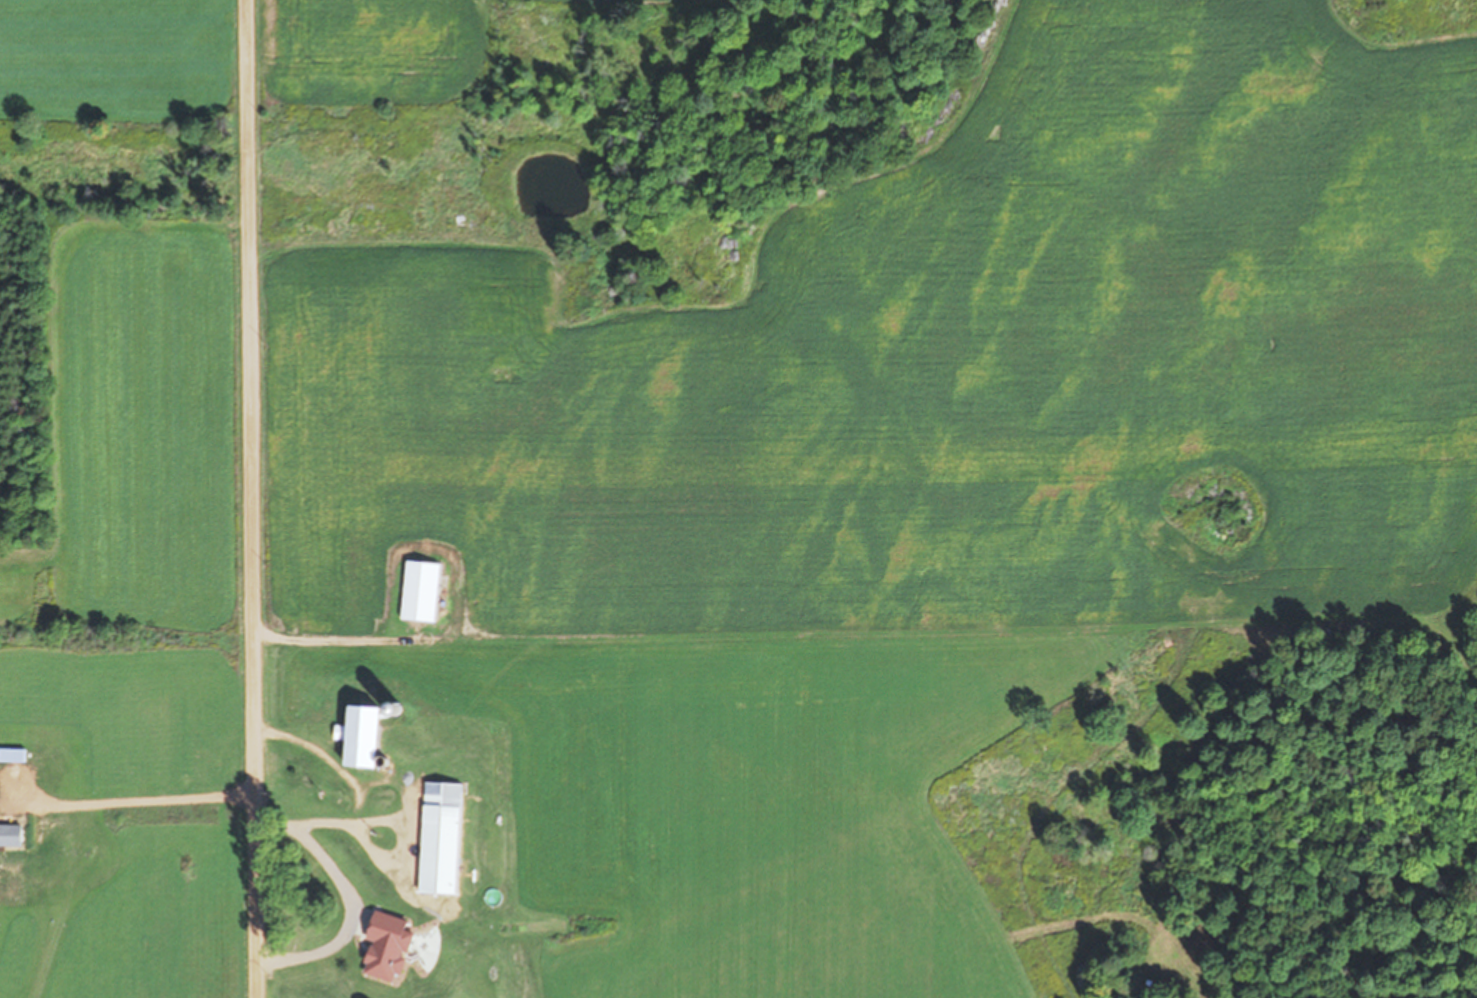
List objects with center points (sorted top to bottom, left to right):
crop: (922, 432)
road: (252, 499)
building: (424, 591)
building: (368, 735)
building: (445, 837)
building: (393, 945)

